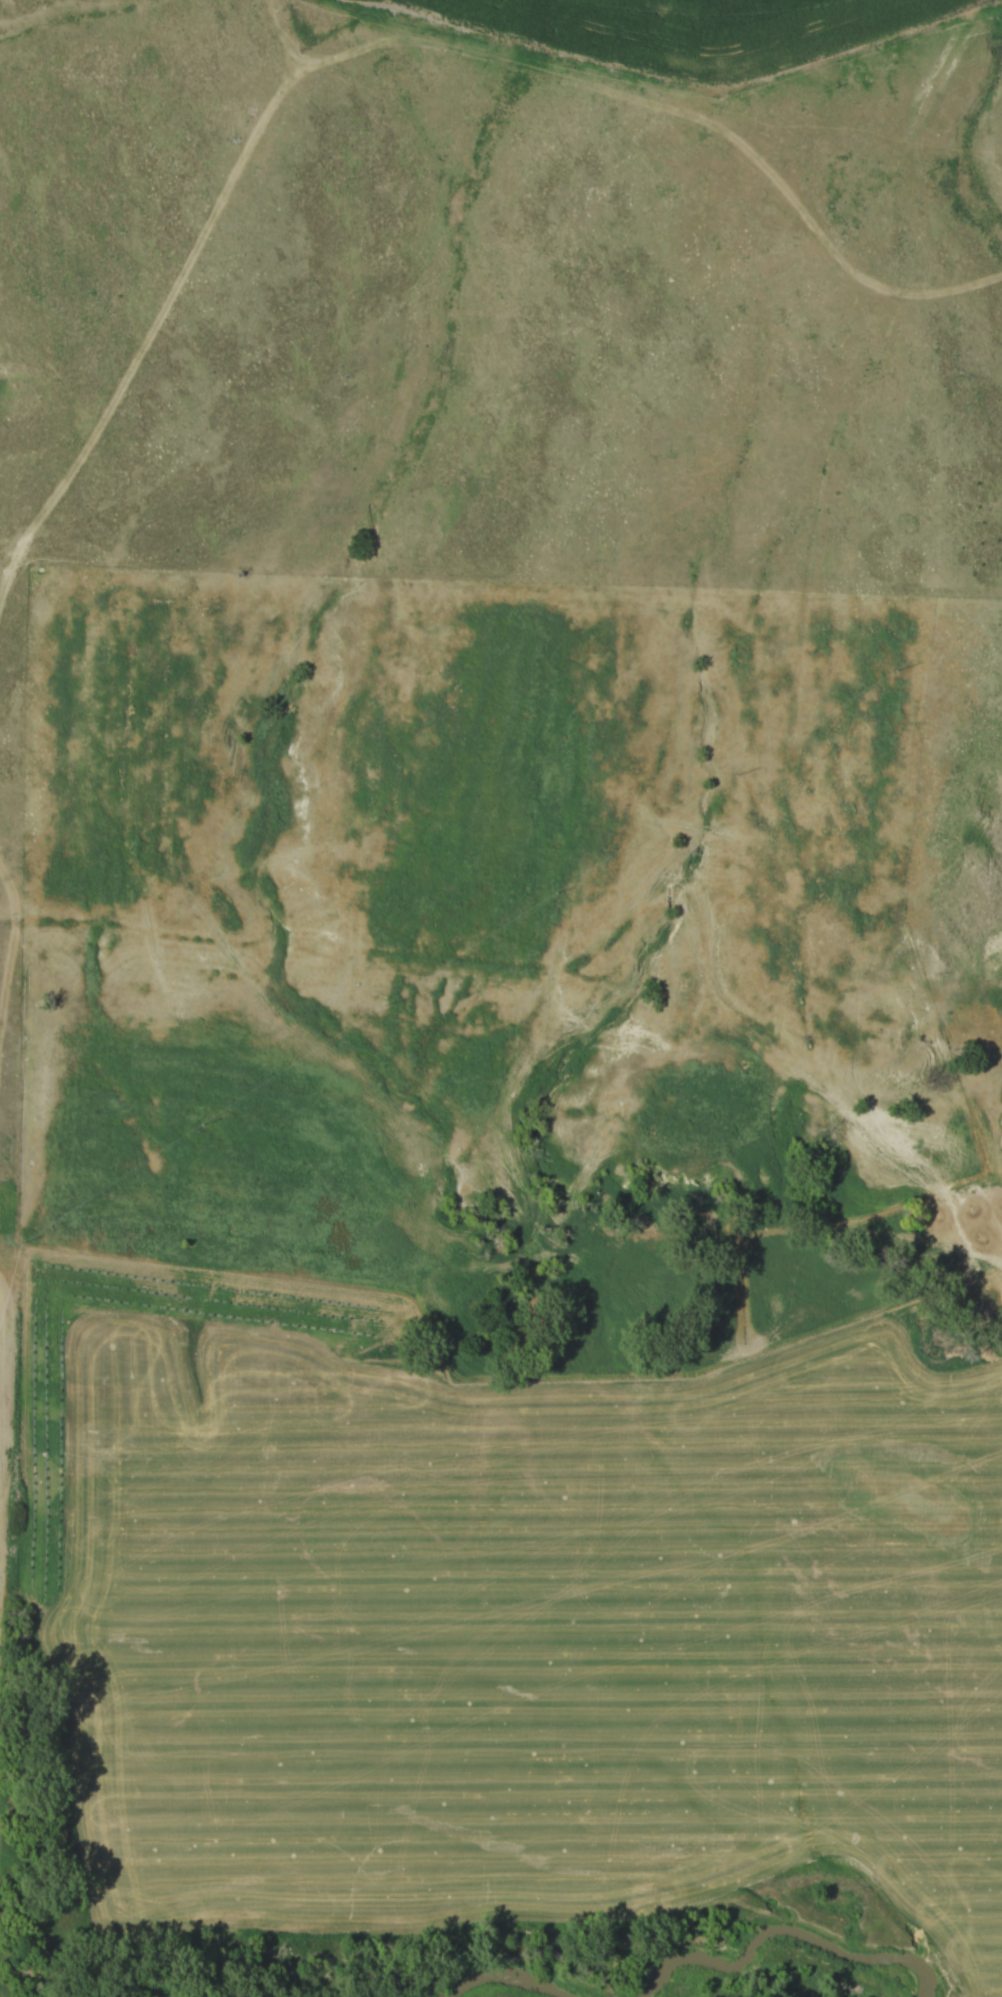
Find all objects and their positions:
crop: (4, 1386)

